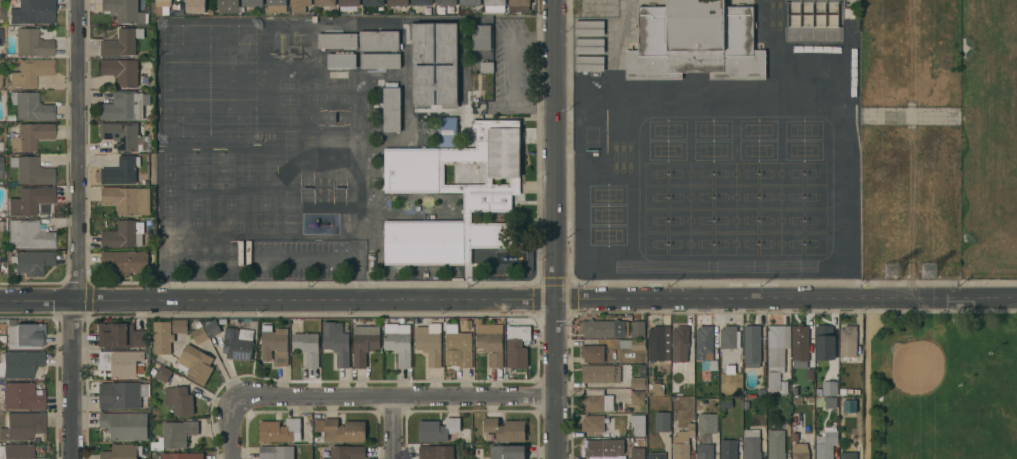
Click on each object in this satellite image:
building: (446, 2)
building: (252, 3)
building: (325, 3)
building: (349, 3)
building: (373, 3)
building: (397, 3)
building: (422, 3)
building: (470, 3)
building: (299, 5)
building: (495, 5)
building: (519, 5)
building: (165, 6)
building: (195, 6)
building: (228, 6)
building: (275, 7)
building: (123, 10)
building: (32, 12)
road: (557, 17)
building: (589, 28)
building: (0, 37)
building: (481, 37)
building: (337, 41)
building: (378, 41)
building: (695, 42)
building: (121, 43)
building: (32, 44)
building: (269, 44)
building: (280, 45)
building: (299, 45)
building: (589, 46)
building: (341, 61)
building: (380, 61)
building: (415, 64)
building: (589, 64)
building: (486, 67)
road: (511, 67)
building: (121, 71)
building: (29, 73)
building: (1, 81)
building: (125, 106)
building: (30, 107)
building: (391, 108)
building: (447, 132)
building: (29, 136)
building: (125, 137)
park: (988, 138)
building: (1, 146)
building: (1, 167)
building: (30, 171)
building: (121, 171)
building: (451, 188)
building: (30, 200)
building: (127, 200)
building: (1, 226)
road: (74, 229)
building: (28, 235)
building: (123, 235)
road: (557, 246)
building: (31, 262)
building: (125, 262)
power tower: (900, 272)
power tower: (937, 272)
road: (508, 300)
building: (179, 326)
building: (212, 328)
building: (598, 329)
building: (637, 329)
building: (199, 335)
building: (24, 336)
building: (120, 336)
building: (162, 338)
building: (731, 338)
building: (704, 340)
building: (336, 343)
building: (364, 343)
building: (398, 343)
building: (429, 343)
building: (238, 344)
building: (659, 344)
building: (274, 345)
building: (624, 345)
building: (638, 345)
building: (847, 345)
building: (517, 346)
building: (752, 346)
building: (802, 346)
building: (491, 347)
building: (681, 347)
building: (307, 348)
building: (457, 348)
building: (826, 348)
building: (592, 354)
building: (776, 354)
building: (19, 364)
building: (121, 364)
building: (195, 364)
building: (712, 365)
building: (162, 374)
building: (600, 374)
building: (638, 383)
park: (941, 387)
building: (655, 389)
building: (783, 389)
building: (829, 389)
building: (761, 393)
building: (819, 393)
building: (121, 395)
building: (20, 397)
building: (636, 397)
building: (179, 400)
road: (398, 400)
building: (596, 401)
building: (798, 402)
building: (825, 402)
building: (726, 405)
building: (745, 405)
building: (309, 417)
building: (662, 422)
building: (592, 423)
building: (707, 423)
building: (637, 424)
building: (22, 426)
building: (125, 426)
road: (395, 429)
building: (340, 430)
building: (437, 430)
building: (505, 430)
building: (279, 431)
road: (234, 433)
building: (174, 435)
building: (794, 438)
building: (682, 443)
building: (827, 443)
building: (751, 445)
building: (776, 445)
building: (602, 447)
building: (728, 449)
building: (16, 451)
building: (627, 451)
building: (800, 451)
building: (122, 452)
building: (275, 452)
building: (347, 452)
building: (435, 452)
building: (507, 452)
building: (706, 452)
building: (637, 453)
building: (848, 455)
building: (181, 456)
building: (656, 456)
building: (321, 458)

